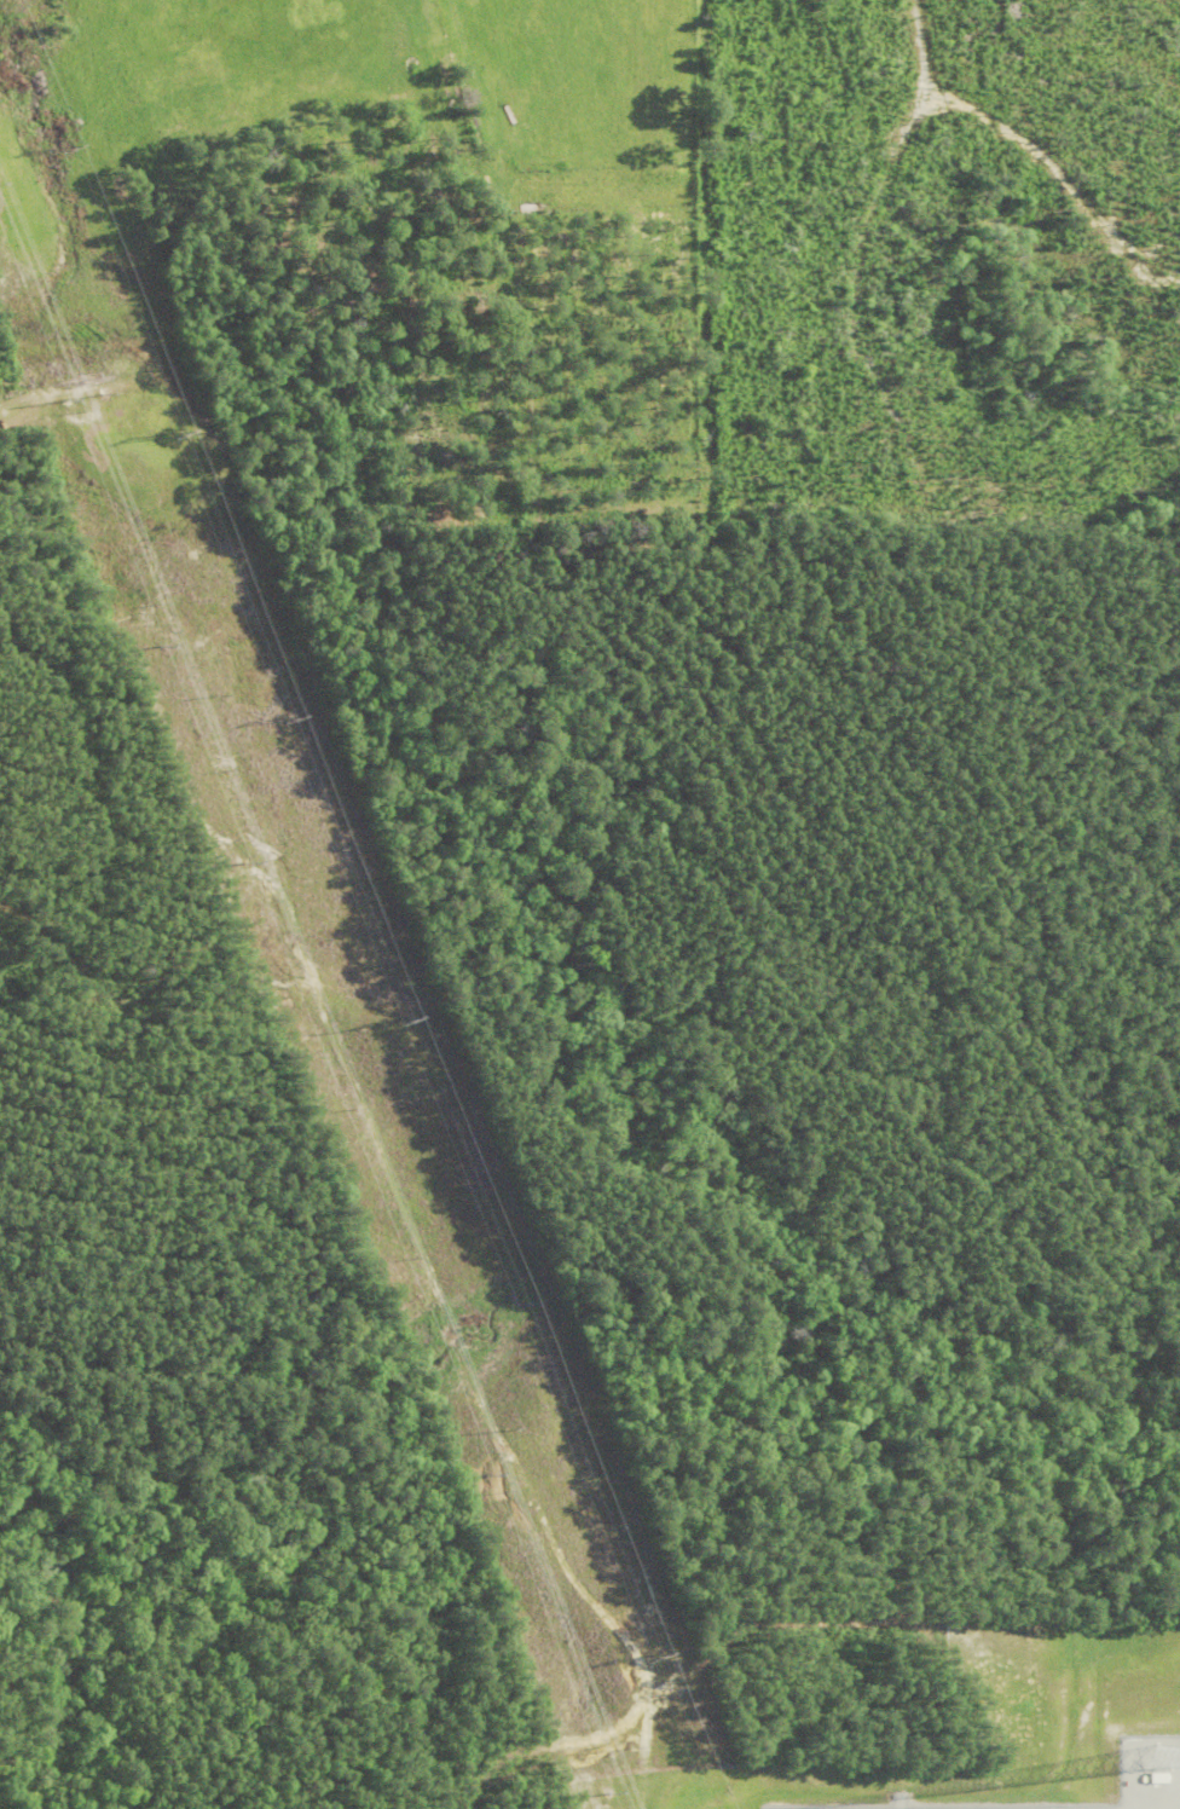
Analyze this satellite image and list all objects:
power substation: (1150, 1768)

